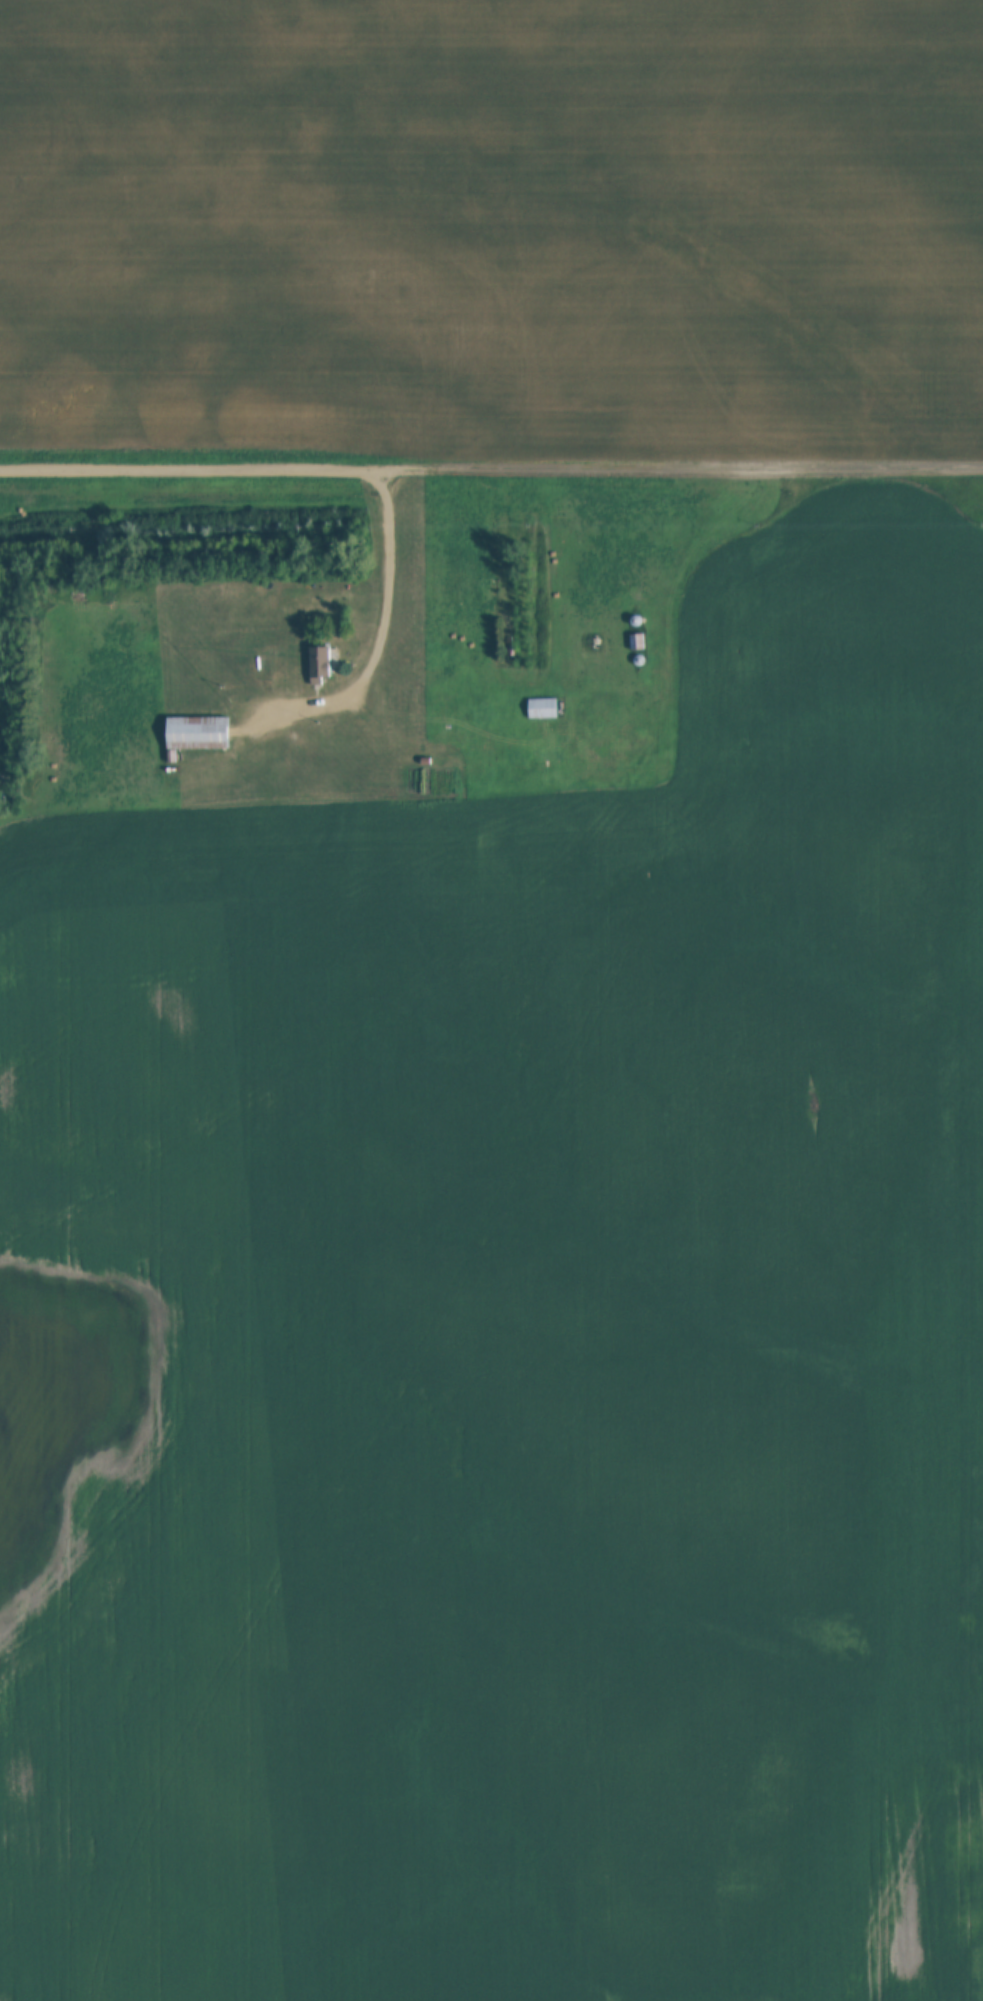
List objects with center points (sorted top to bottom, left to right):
road: (686, 467)
road: (195, 469)
road: (387, 627)
building: (324, 663)
building: (543, 708)
building: (198, 733)

